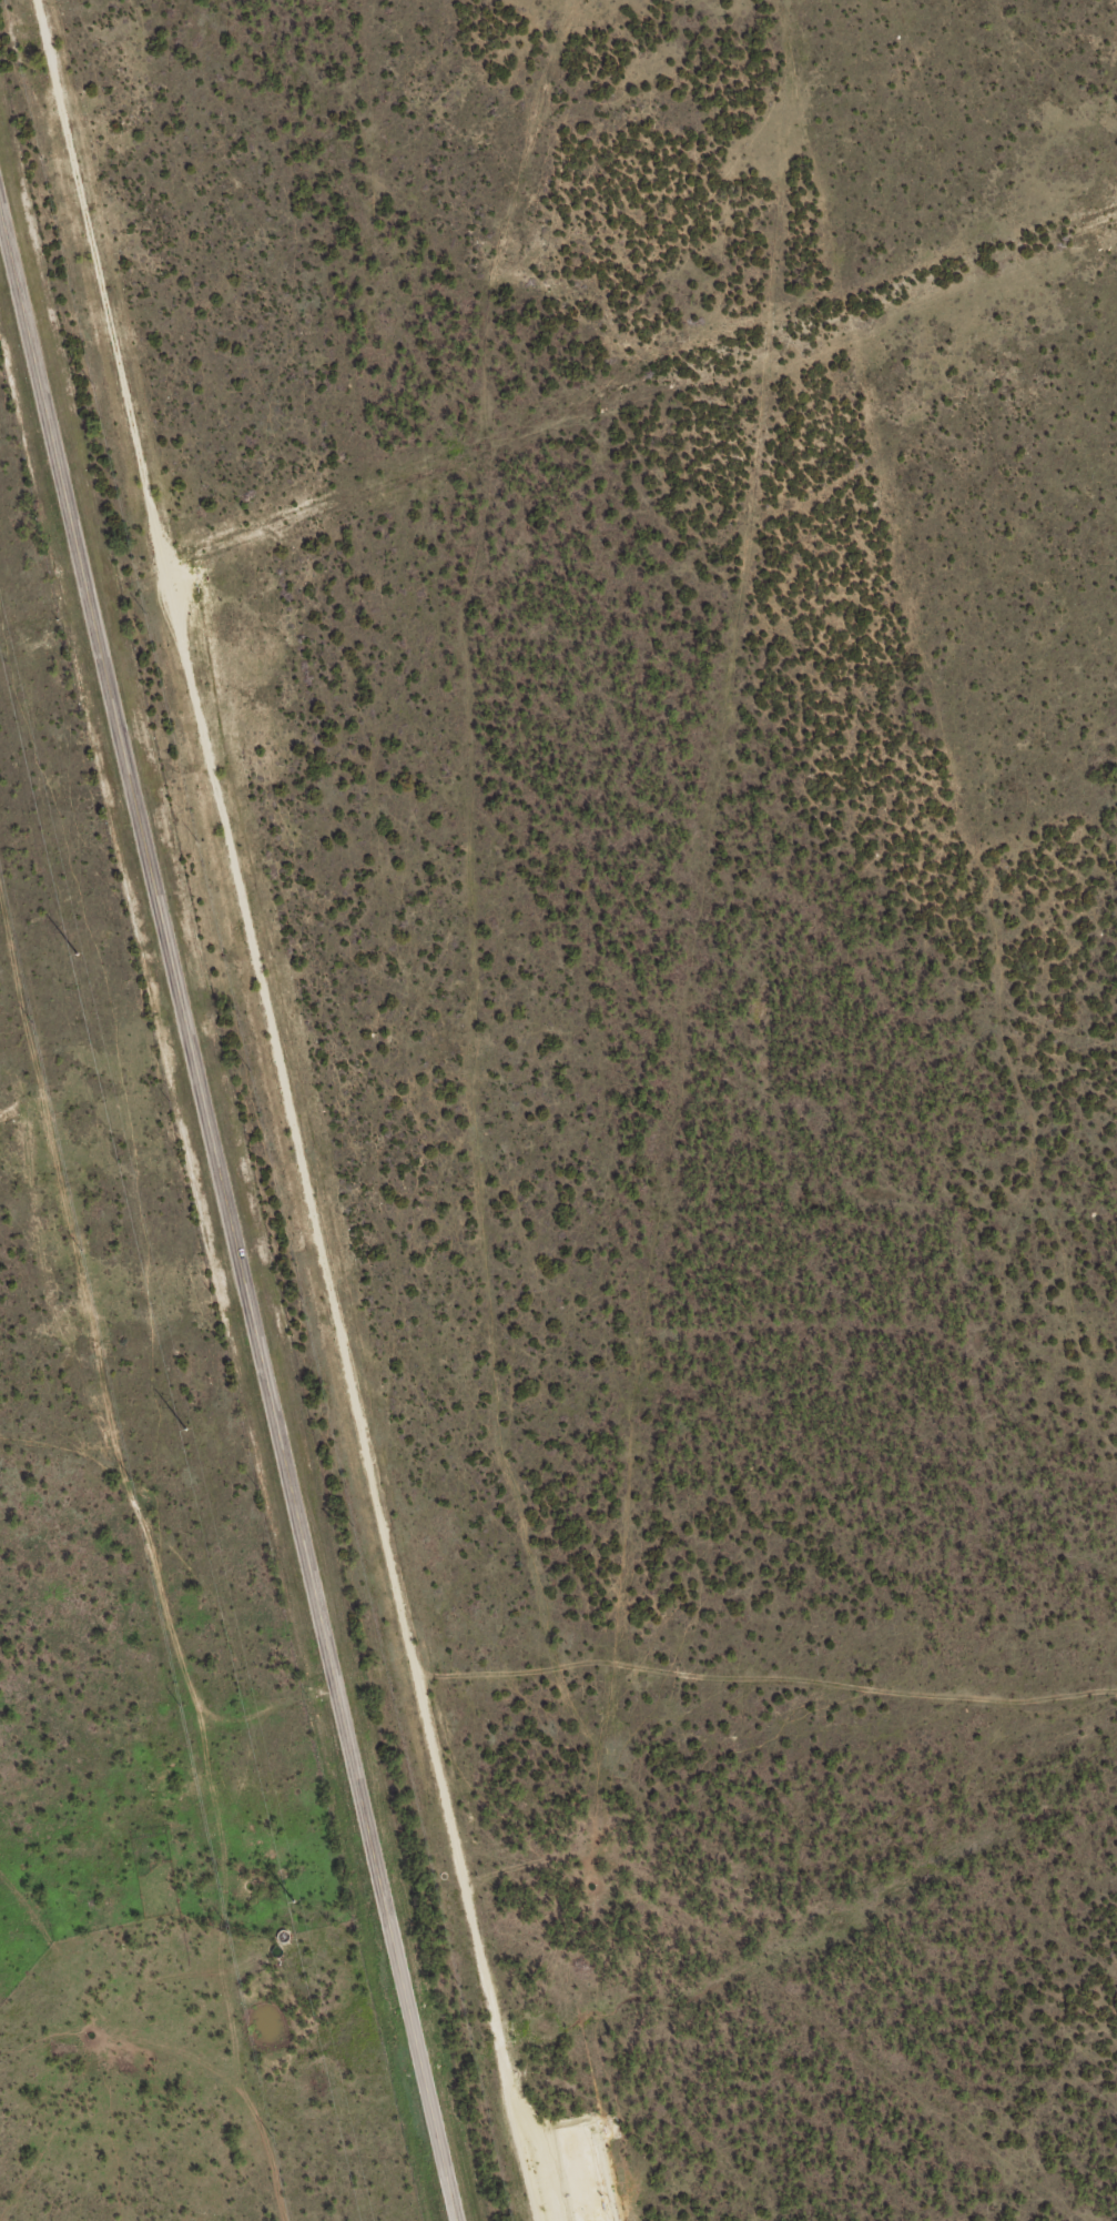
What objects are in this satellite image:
road: (450, 834)
power tower: (73, 955)
road: (6, 1032)
road: (231, 1241)
power tower: (181, 1430)
road: (13, 1443)
road: (494, 1688)
power tower: (290, 1904)
road: (201, 2066)

